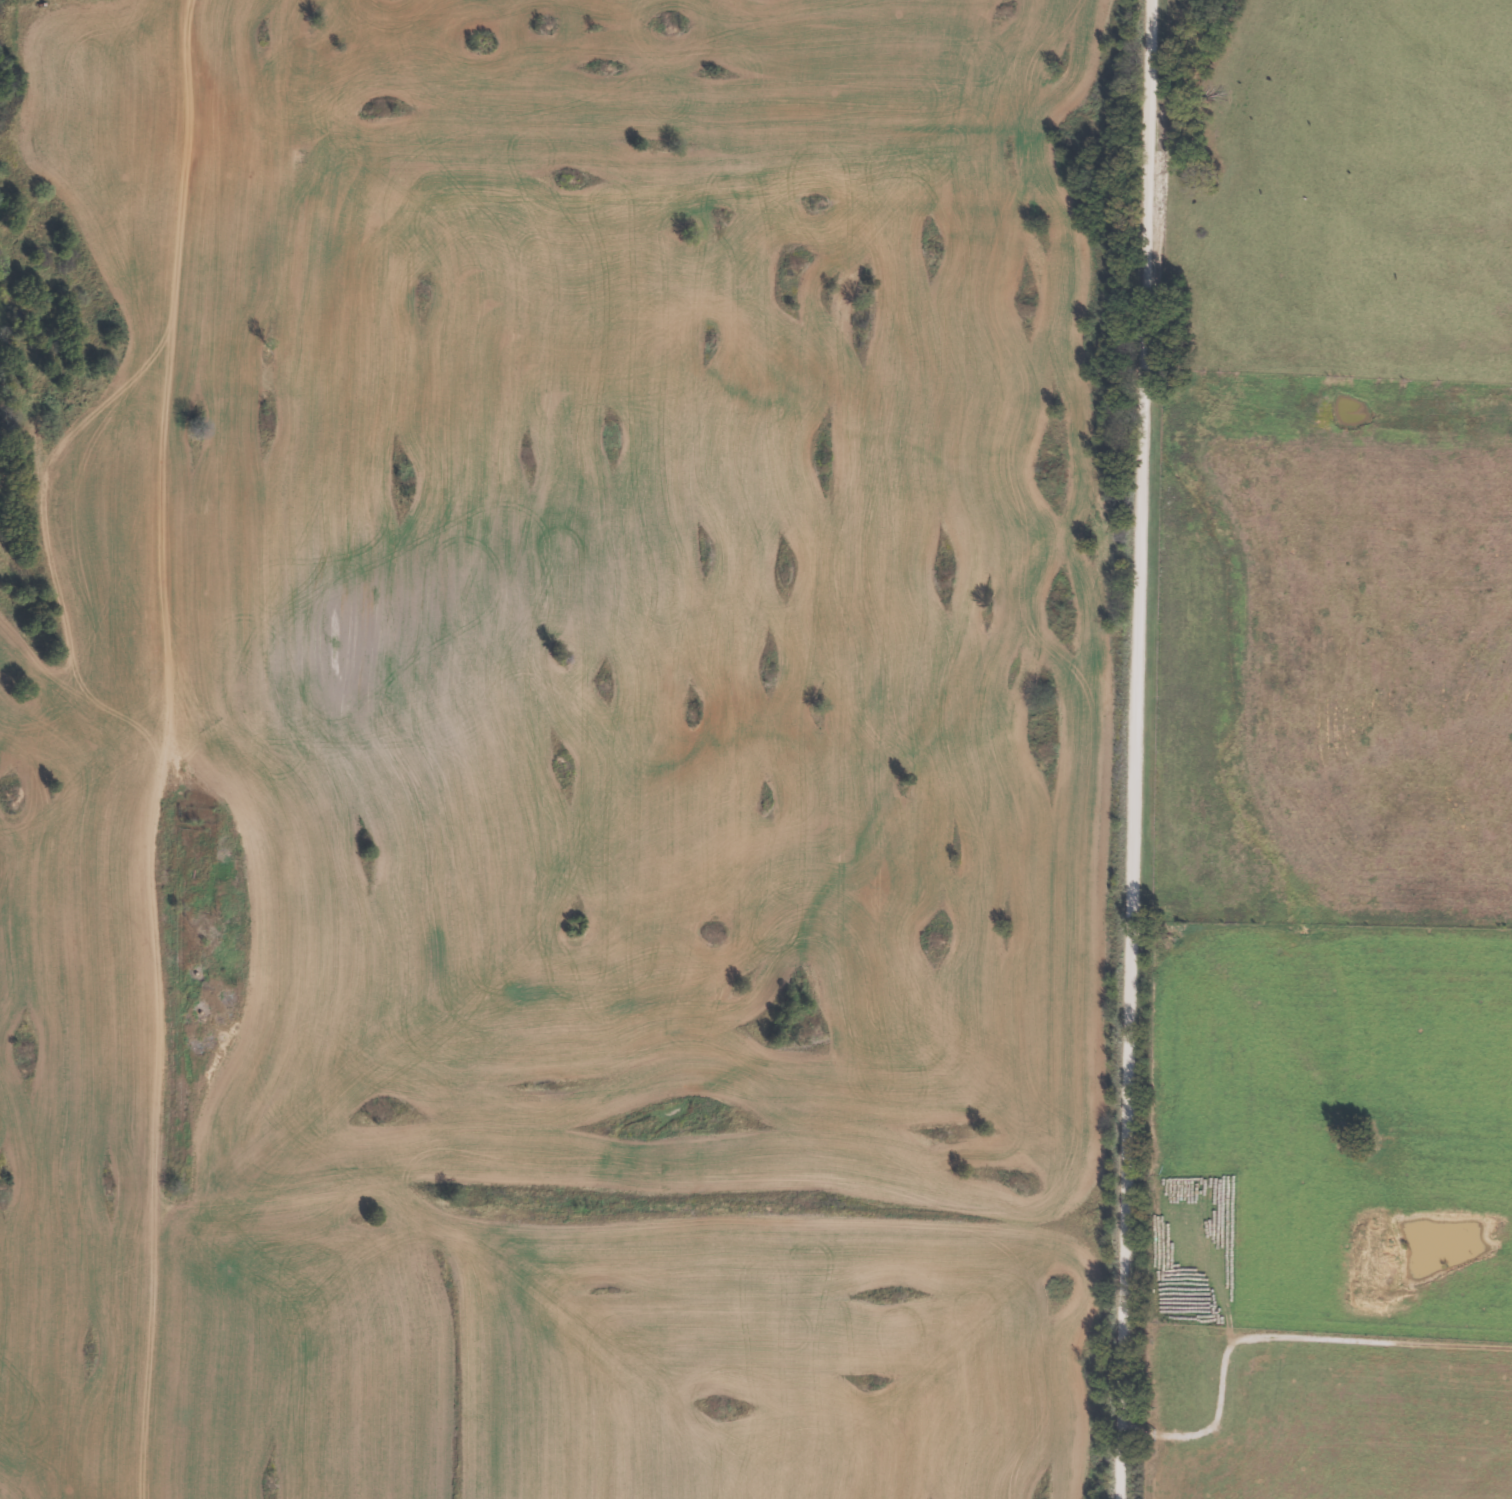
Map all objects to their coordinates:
road: (1135, 749)

